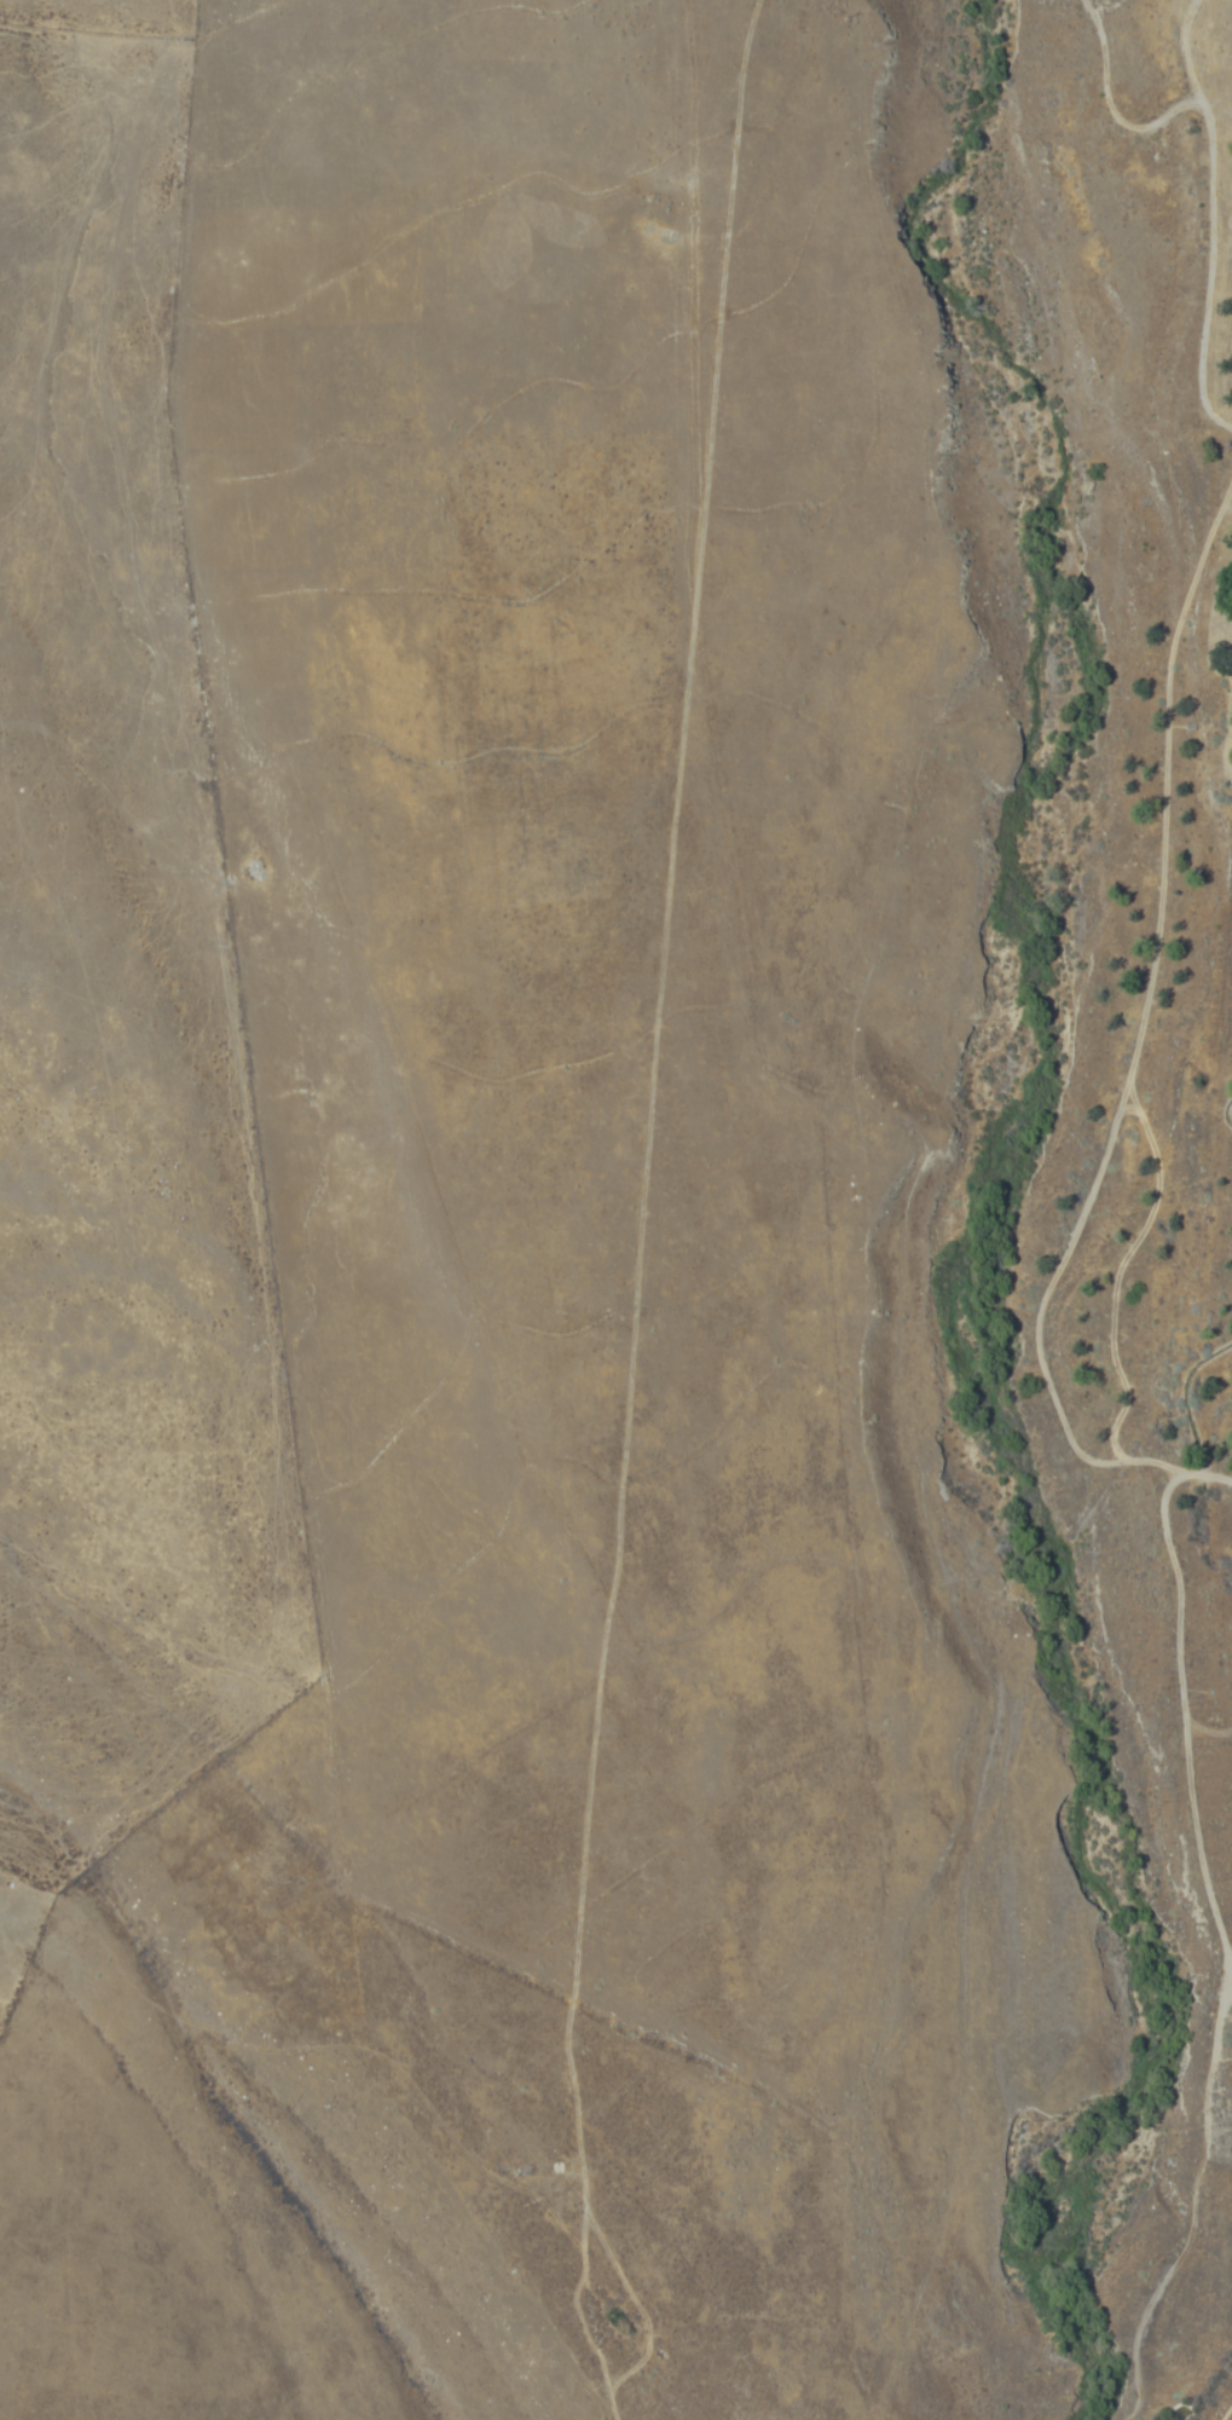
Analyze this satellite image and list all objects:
road: (1114, 102)
road: (1207, 219)
road: (1228, 1117)
road: (1065, 1244)
road: (1187, 1400)
road: (1201, 1475)
road: (290, 1994)
road: (1195, 2204)

